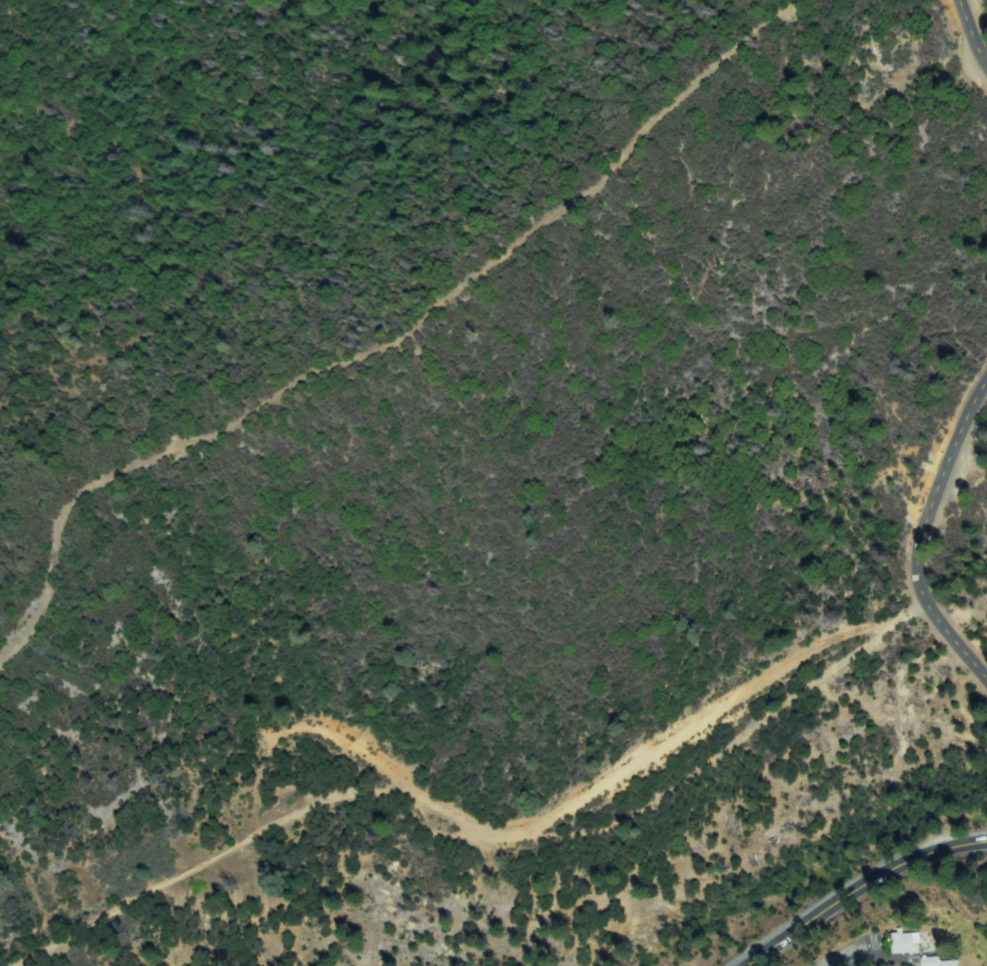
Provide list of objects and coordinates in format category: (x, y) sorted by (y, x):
road: (969, 38)
road: (387, 347)
road: (919, 535)
road: (955, 578)
road: (860, 888)
building: (905, 942)
building: (939, 962)

